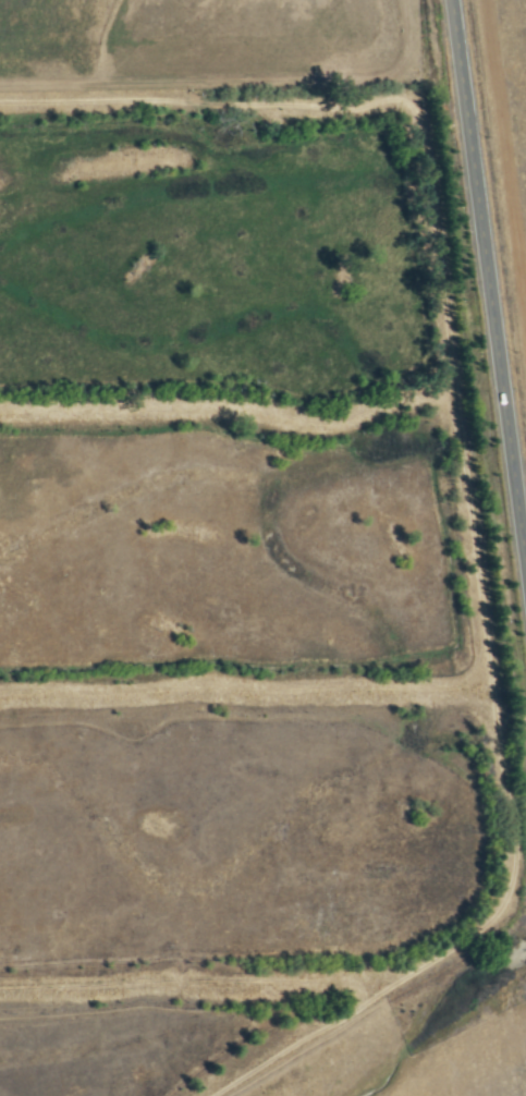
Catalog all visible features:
road: (487, 294)

